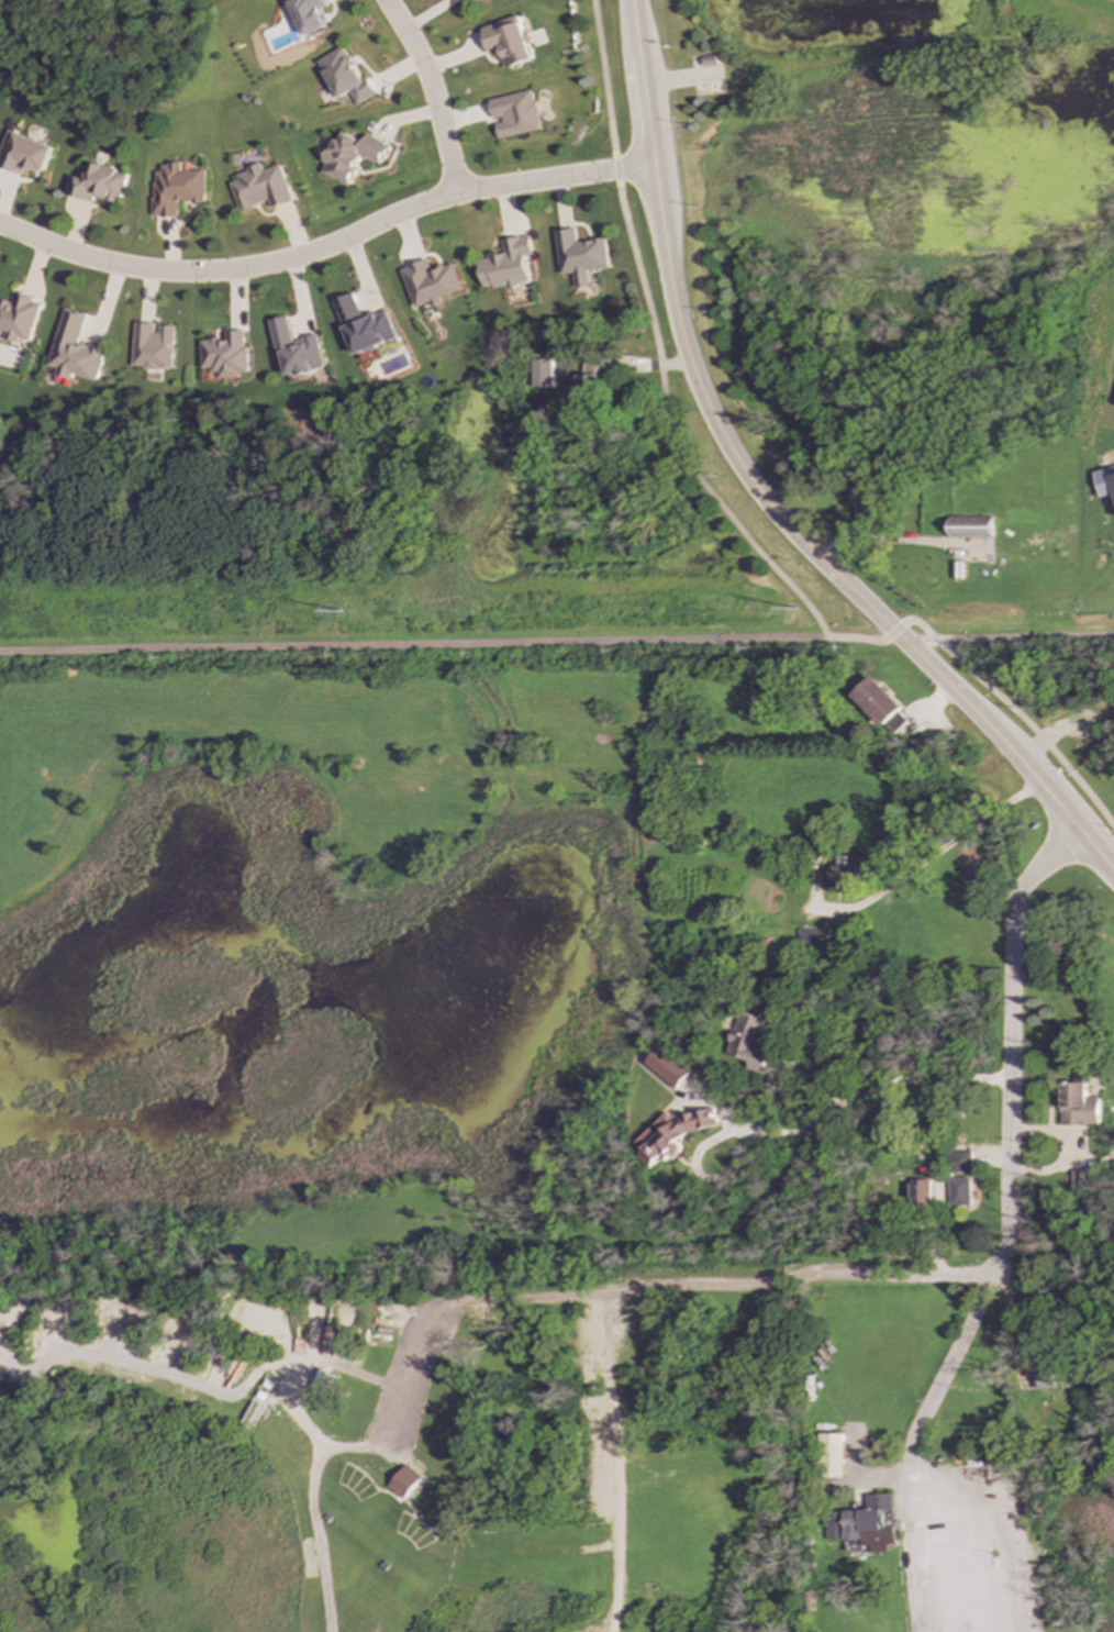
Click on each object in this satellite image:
building: (476, 1)
building: (311, 14)
building: (509, 42)
building: (346, 75)
road: (436, 88)
building: (516, 114)
building: (25, 153)
building: (354, 155)
building: (98, 182)
building: (261, 187)
building: (178, 188)
road: (328, 244)
building: (581, 256)
building: (509, 264)
building: (432, 282)
building: (20, 318)
building: (365, 325)
road: (657, 343)
building: (154, 346)
building: (76, 348)
building: (297, 348)
building: (226, 354)
building: (543, 373)
building: (593, 380)
building: (1105, 481)
road: (758, 497)
building: (970, 526)
power tower: (833, 610)
power tower: (359, 612)
road: (921, 624)
road: (894, 631)
road: (857, 636)
road: (1026, 637)
road: (413, 642)
building: (877, 701)
building: (896, 723)
road: (1032, 729)
road: (946, 845)
building: (845, 875)
building: (813, 941)
building: (751, 1042)
road: (860, 1099)
building: (1079, 1106)
building: (670, 1136)
road: (1063, 1141)
building: (961, 1162)
building: (1081, 1181)
building: (921, 1190)
building: (959, 1191)
road: (864, 1276)
road: (515, 1292)
building: (1044, 1381)
building: (322, 1383)
road: (914, 1446)
road: (327, 1448)
building: (832, 1455)
building: (404, 1481)
building: (866, 1524)
building: (859, 1625)

